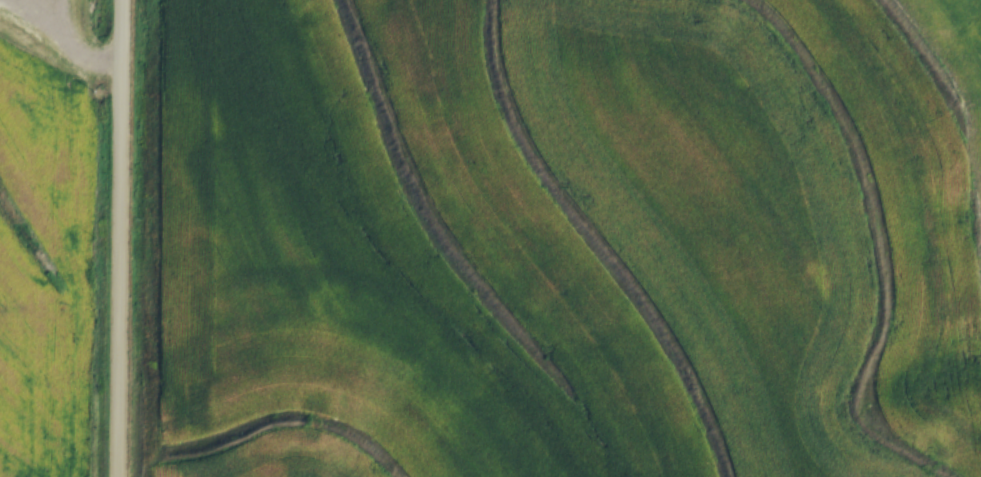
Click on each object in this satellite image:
road: (120, 238)

